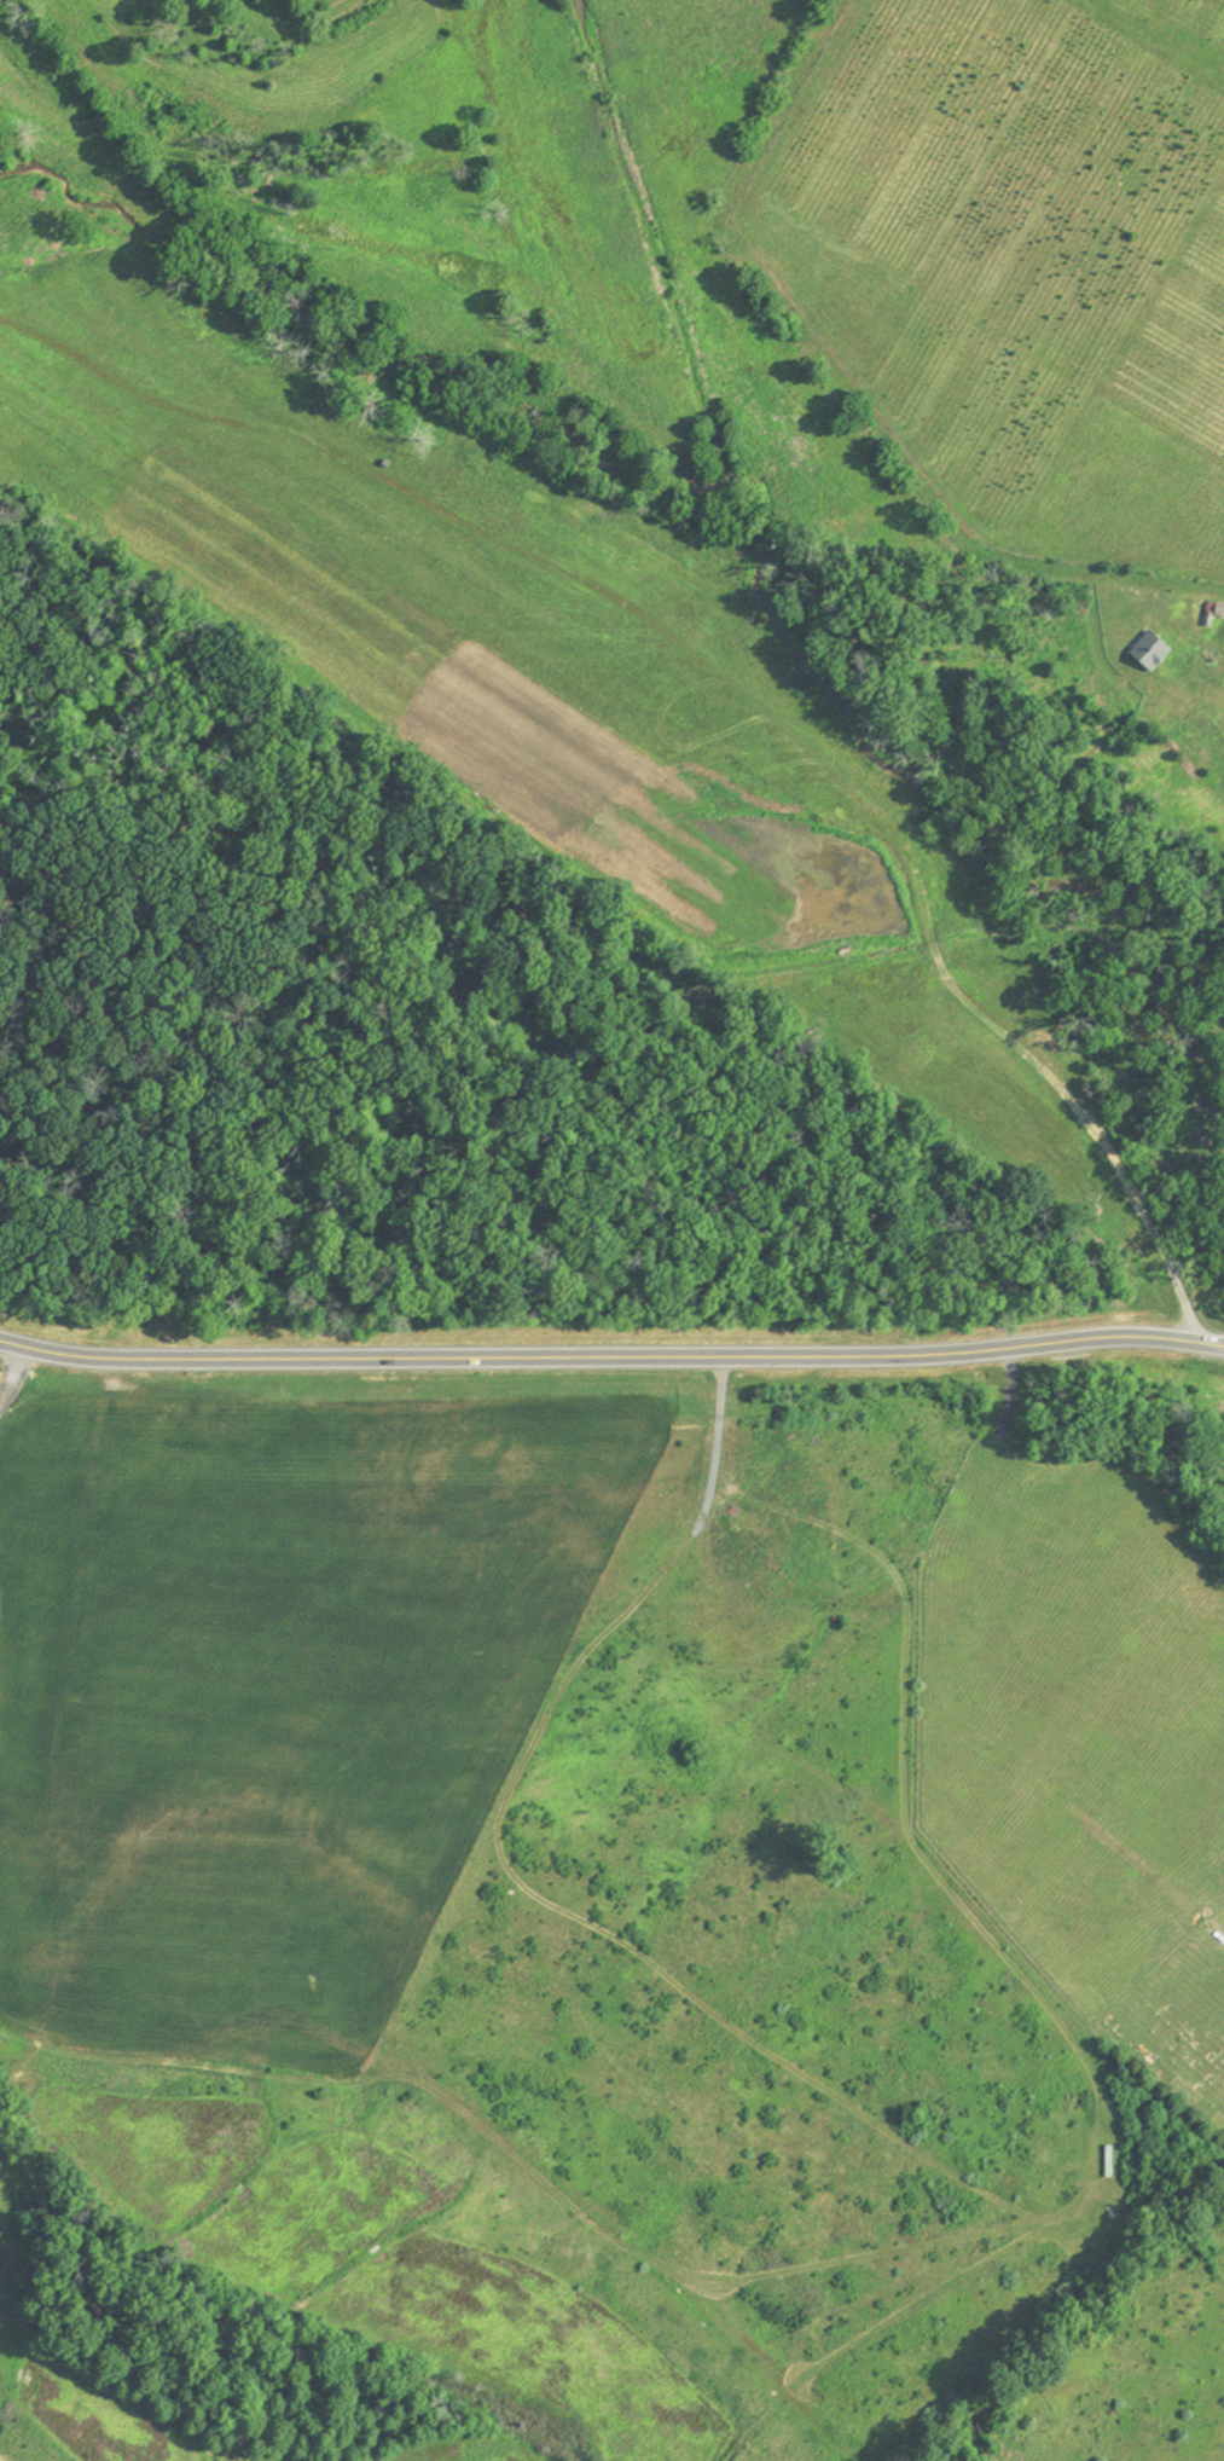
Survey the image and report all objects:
building: (1154, 647)
road: (611, 1355)
crop: (1075, 1708)
road: (58, 1732)
crop: (559, 1837)
park: (1179, 2021)
crop: (1141, 2379)

